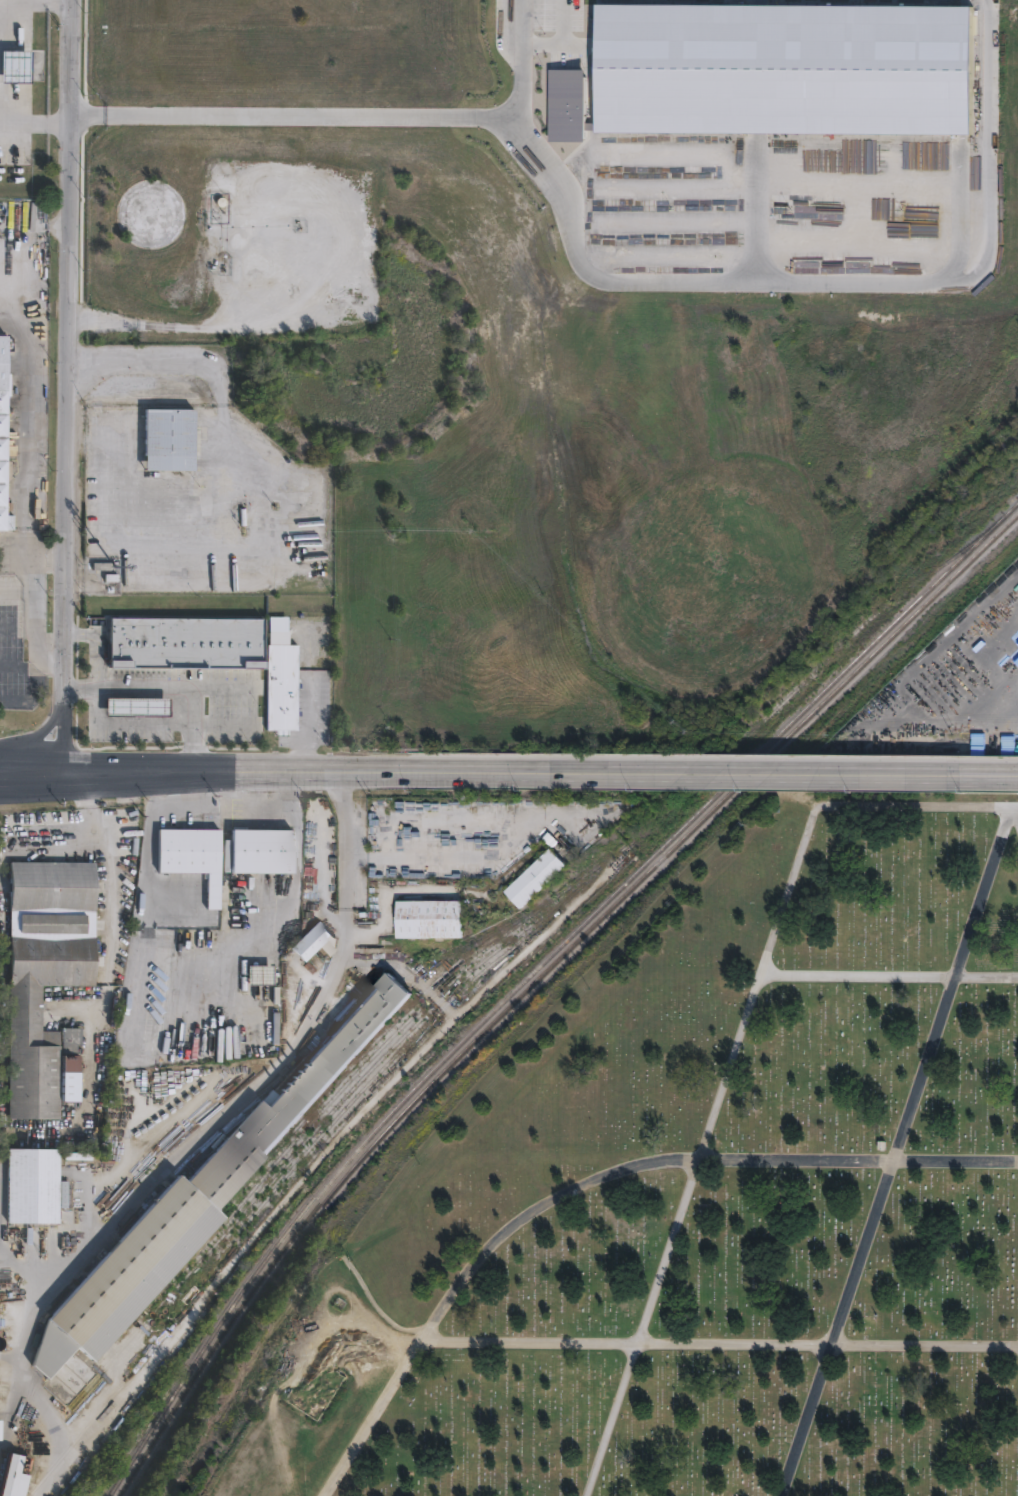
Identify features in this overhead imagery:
road: (562, 42)
road: (518, 62)
building: (783, 65)
building: (13, 66)
road: (289, 114)
road: (35, 122)
petroleum well: (218, 202)
road: (832, 280)
road: (218, 318)
road: (66, 393)
road: (36, 417)
building: (4, 437)
building: (168, 441)
road: (293, 531)
road: (36, 576)
road: (36, 623)
road: (8, 627)
building: (179, 644)
road: (96, 645)
road: (33, 666)
building: (279, 677)
road: (81, 687)
road: (14, 702)
building: (131, 709)
road: (312, 719)
road: (238, 725)
road: (41, 732)
road: (194, 745)
road: (2, 755)
road: (107, 758)
road: (306, 768)
road: (711, 768)
road: (176, 774)
road: (1, 784)
road: (104, 784)
road: (33, 785)
road: (288, 810)
road: (1016, 812)
road: (516, 827)
building: (266, 850)
building: (196, 856)
road: (149, 866)
building: (546, 877)
building: (54, 885)
building: (440, 919)
building: (55, 923)
building: (311, 946)
railway: (531, 970)
building: (264, 975)
road: (889, 975)
railway: (537, 977)
road: (105, 985)
building: (41, 1019)
building: (77, 1036)
road: (732, 1055)
building: (77, 1064)
road: (191, 1145)
road: (896, 1151)
road: (593, 1175)
building: (38, 1187)
building: (200, 1204)
park: (712, 1206)
road: (719, 1341)
building: (0, 1428)
building: (20, 1479)

